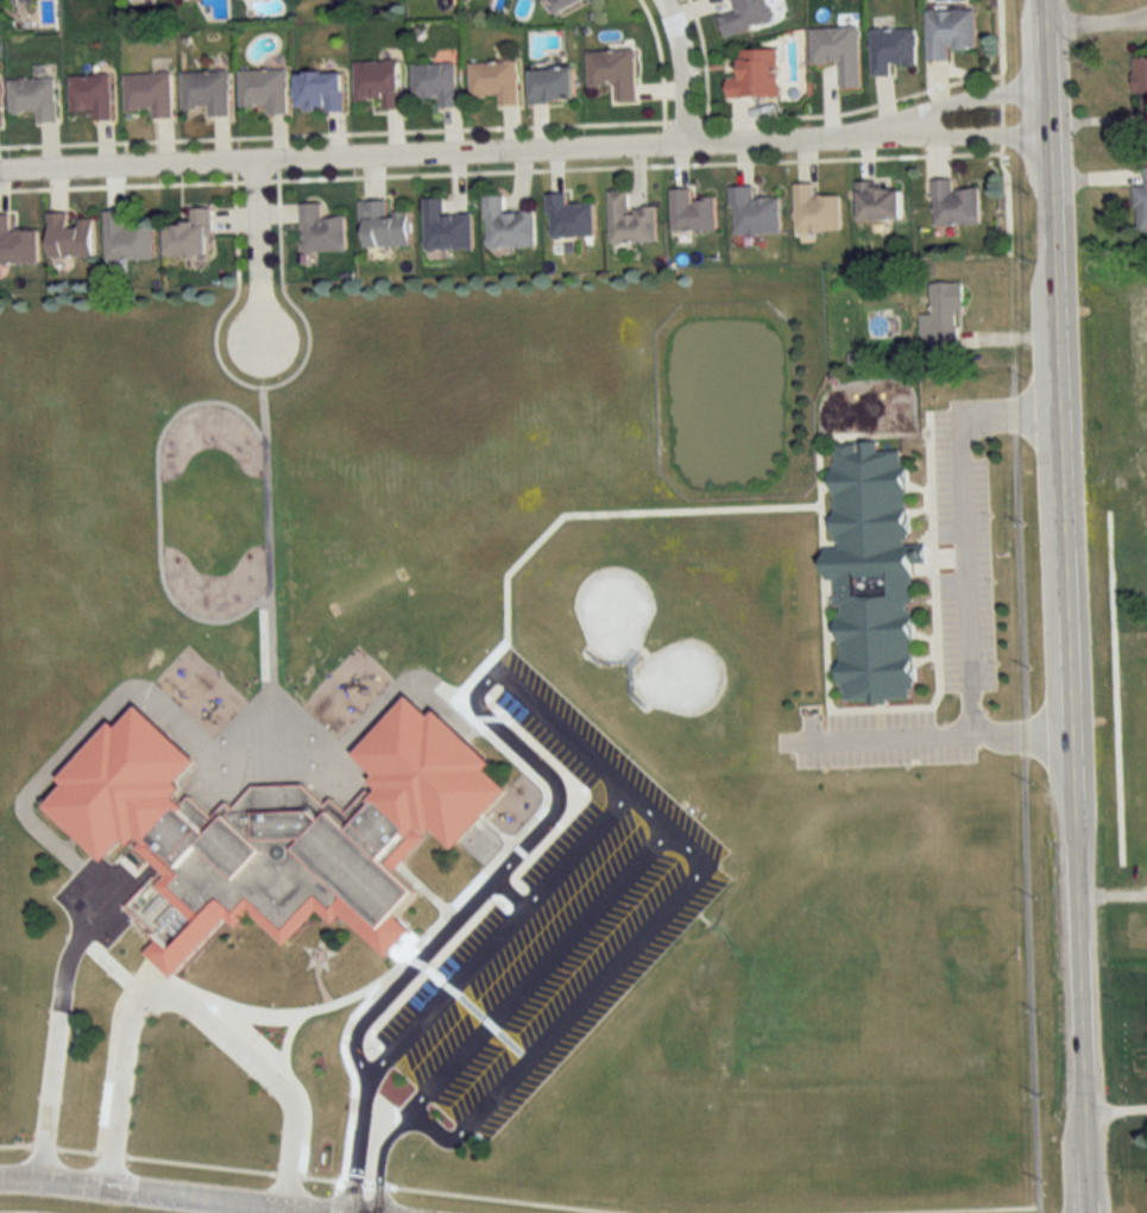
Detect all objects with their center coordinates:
building: (563, 4)
building: (745, 15)
road: (1096, 21)
building: (949, 31)
building: (891, 49)
building: (838, 51)
road: (658, 61)
road: (701, 63)
road: (681, 69)
building: (613, 71)
building: (757, 74)
building: (496, 81)
building: (378, 82)
building: (1141, 82)
building: (436, 83)
building: (552, 84)
building: (264, 89)
building: (206, 92)
building: (320, 92)
building: (149, 94)
building: (90, 95)
building: (33, 98)
road: (962, 99)
road: (852, 109)
road: (683, 120)
road: (1004, 125)
road: (335, 132)
road: (964, 136)
road: (441, 150)
road: (632, 165)
road: (253, 181)
road: (121, 186)
building: (880, 202)
building: (954, 205)
building: (1141, 205)
building: (815, 210)
building: (693, 213)
building: (754, 213)
building: (569, 218)
building: (630, 220)
building: (384, 226)
building: (508, 226)
building: (445, 228)
road: (256, 231)
building: (321, 231)
building: (190, 235)
building: (69, 237)
building: (126, 239)
building: (17, 244)
road: (277, 315)
building: (943, 320)
road: (263, 384)
building: (872, 572)
road: (964, 572)
road: (1065, 606)
road: (565, 733)
road: (889, 734)
building: (279, 830)
road: (493, 937)
road: (415, 962)
road: (433, 973)
road: (530, 976)
road: (190, 1005)
road: (478, 1014)
road: (61, 1016)
road: (358, 1143)
road: (15, 1144)
road: (42, 1145)
road: (76, 1150)
road: (111, 1154)
road: (379, 1162)
road: (198, 1164)
road: (284, 1174)
road: (319, 1177)
road: (352, 1181)
road: (366, 1182)
road: (334, 1184)
road: (377, 1184)
road: (165, 1194)
road: (503, 1198)
road: (333, 1201)
road: (365, 1207)
road: (937, 1208)
road: (29, 1211)

